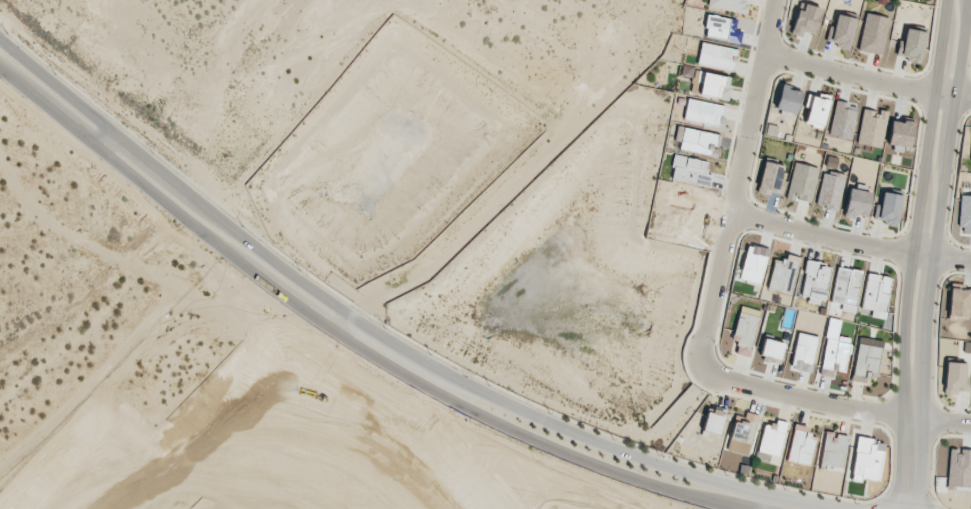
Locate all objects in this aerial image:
building: (728, 5)
building: (806, 19)
building: (721, 29)
building: (841, 31)
building: (873, 34)
building: (911, 45)
building: (716, 56)
road: (867, 77)
building: (714, 86)
building: (787, 99)
building: (815, 110)
building: (703, 112)
building: (842, 119)
building: (871, 127)
building: (900, 131)
road: (104, 138)
building: (697, 141)
building: (690, 170)
building: (771, 178)
road: (738, 182)
building: (802, 182)
building: (829, 190)
road: (920, 193)
road: (941, 194)
building: (856, 203)
building: (888, 208)
building: (965, 214)
road: (850, 240)
road: (456, 254)
building: (753, 263)
building: (783, 274)
building: (815, 282)
building: (846, 285)
building: (876, 294)
building: (959, 302)
road: (342, 322)
building: (745, 333)
road: (386, 337)
road: (348, 339)
building: (771, 348)
building: (804, 352)
building: (834, 356)
building: (866, 359)
building: (955, 377)
road: (834, 404)
building: (713, 421)
building: (744, 428)
building: (772, 438)
building: (801, 445)
road: (911, 448)
building: (833, 449)
building: (867, 459)
building: (959, 468)

